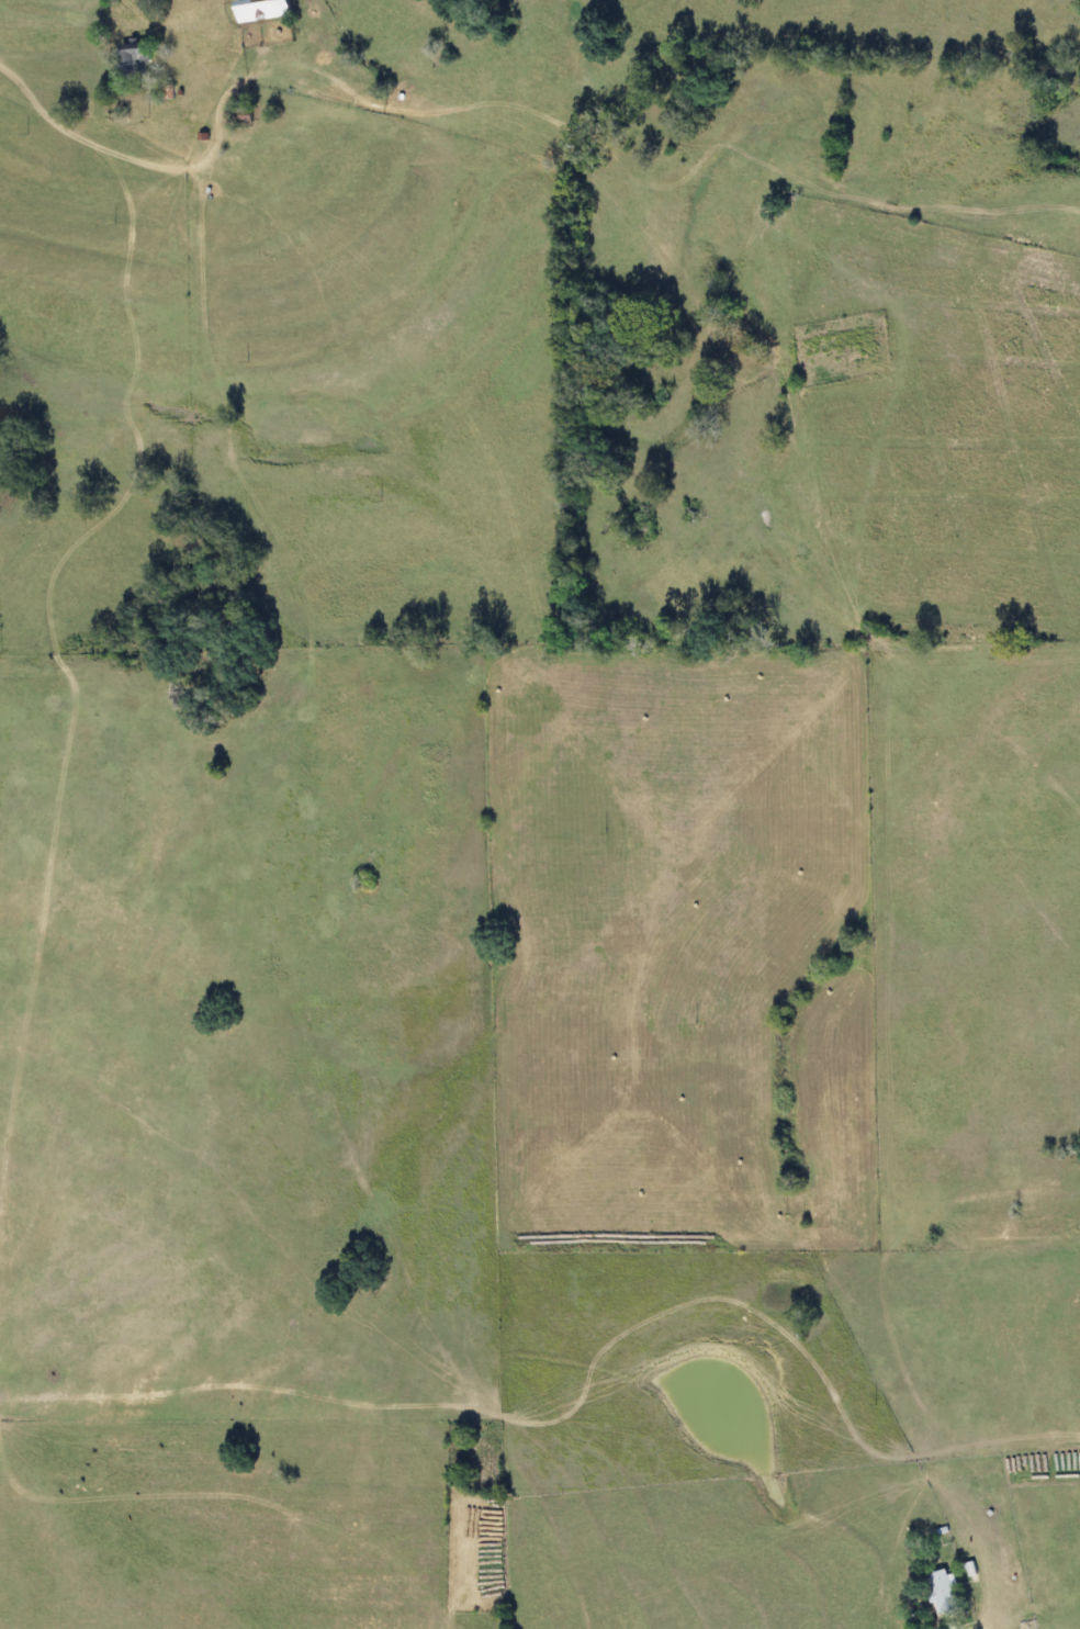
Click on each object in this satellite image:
building: (258, 9)
building: (134, 57)
road: (306, 74)
building: (940, 1591)

